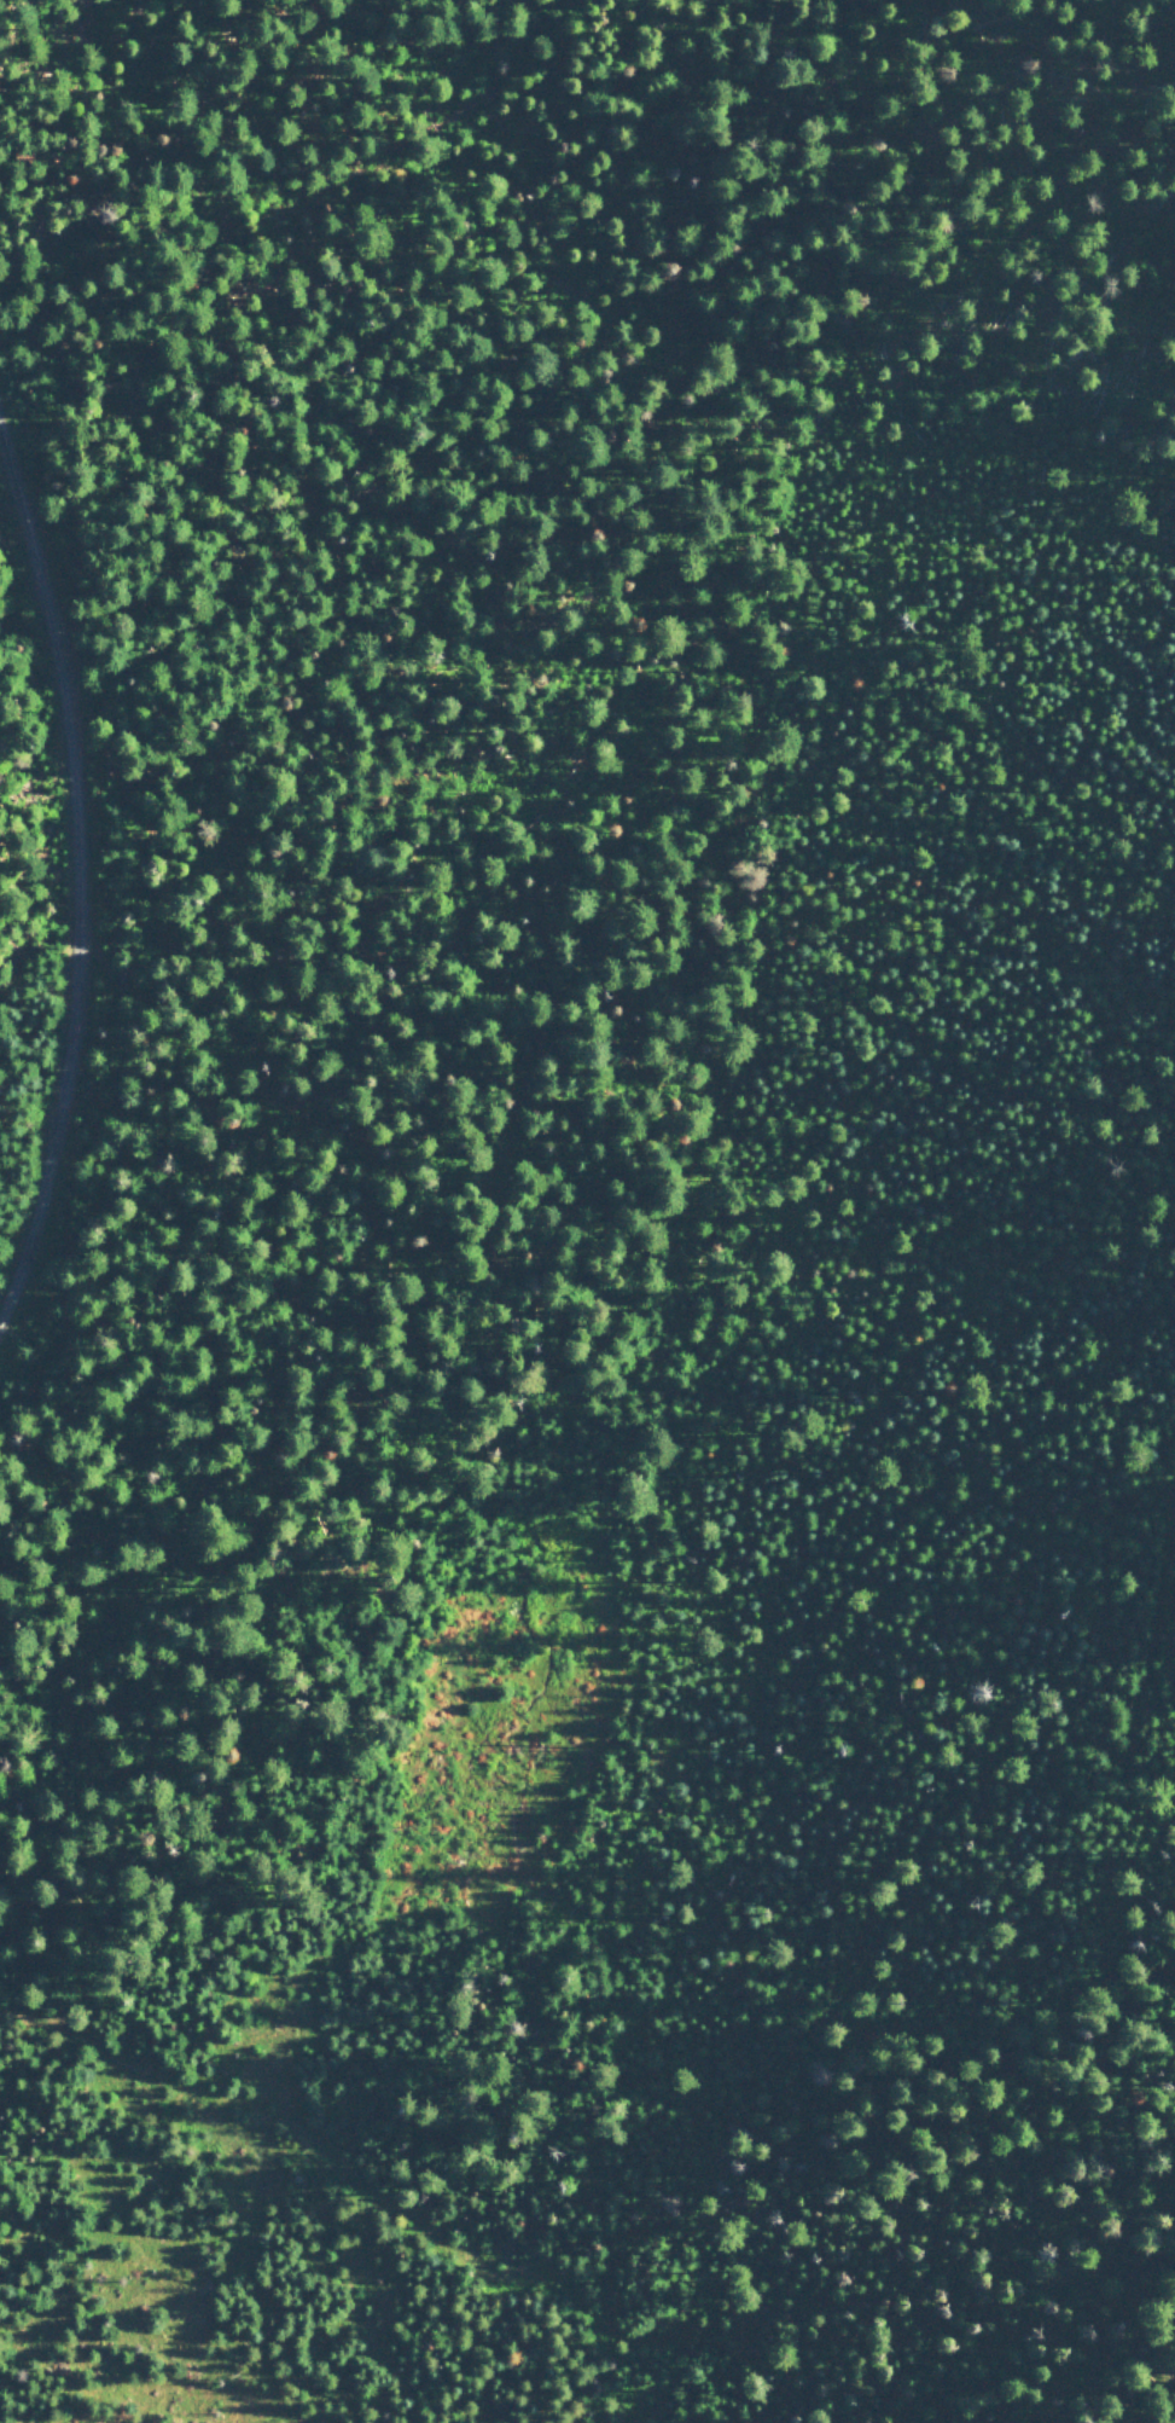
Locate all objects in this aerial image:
road: (66, 822)

